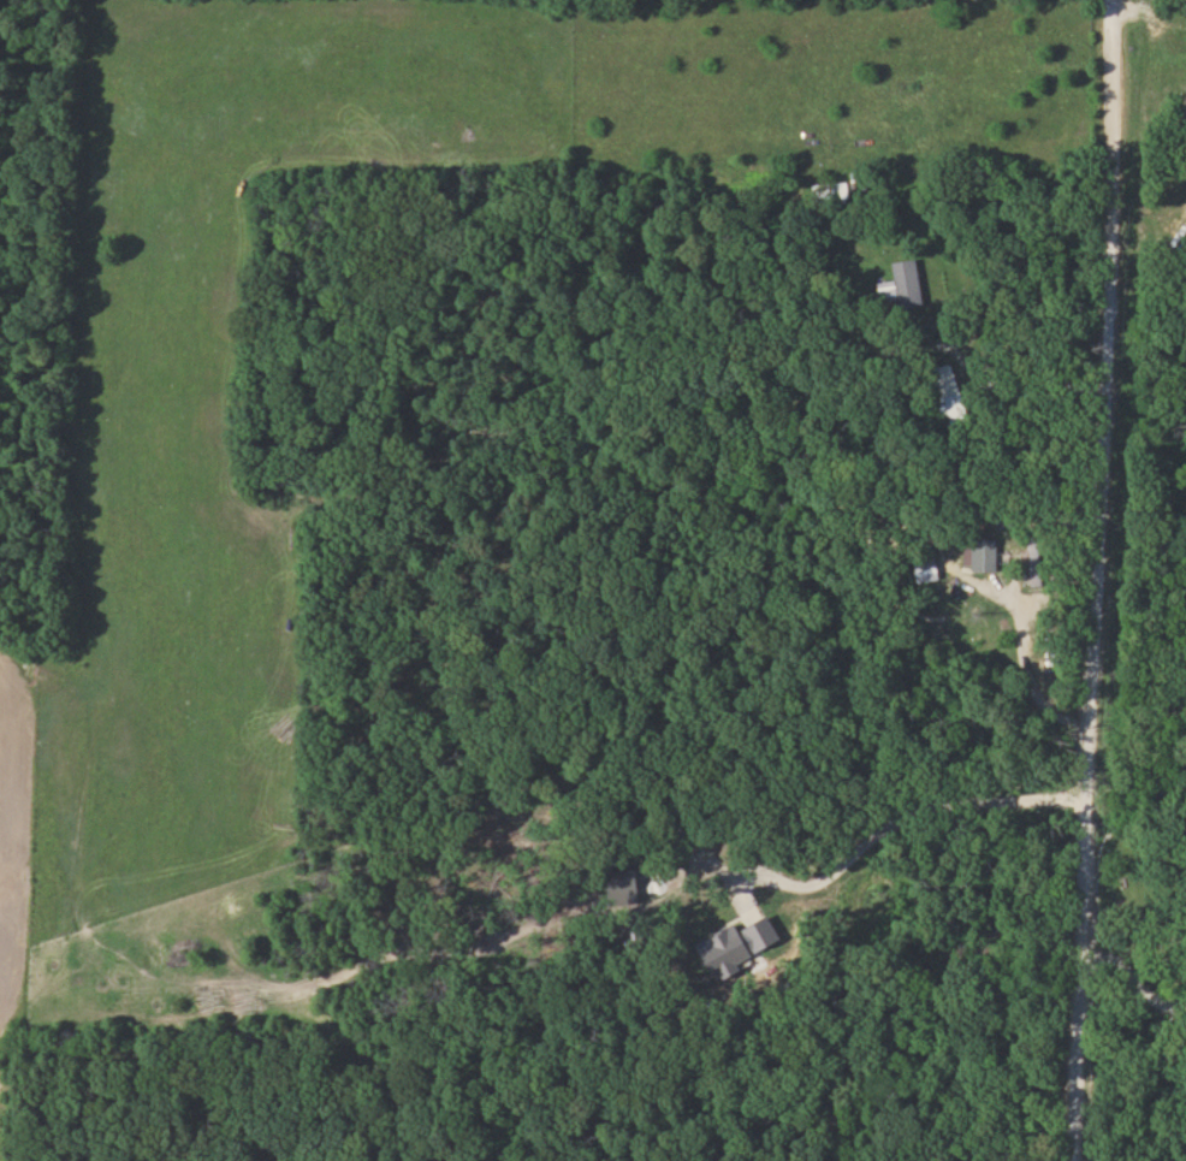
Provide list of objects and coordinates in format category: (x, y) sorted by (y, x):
building: (828, 194)
building: (907, 283)
building: (939, 405)
building: (986, 555)
building: (929, 571)
road: (1085, 580)
road: (1022, 665)
road: (897, 819)

